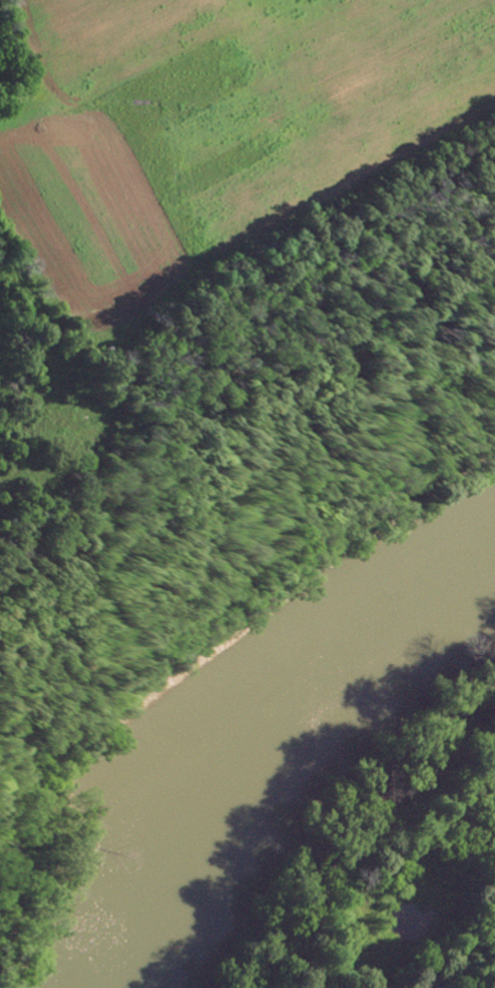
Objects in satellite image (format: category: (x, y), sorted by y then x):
river: (253, 772)

